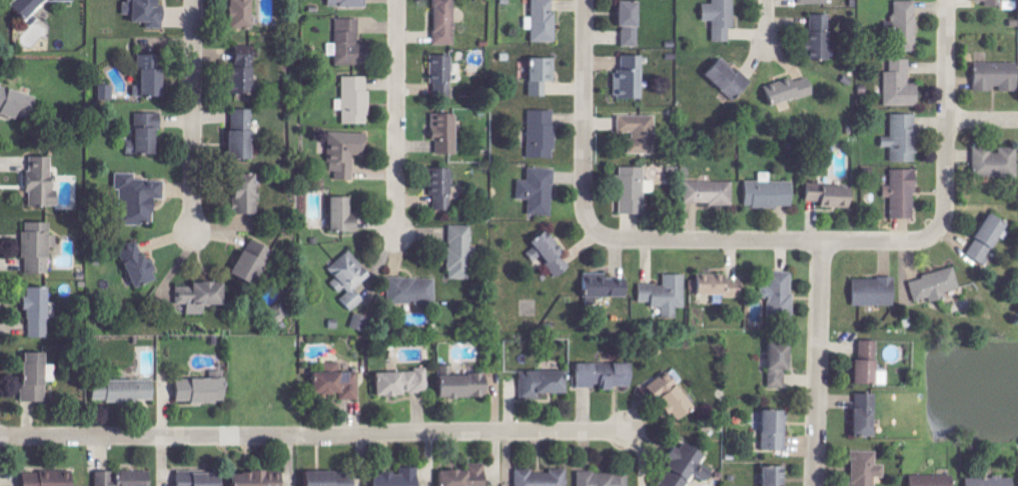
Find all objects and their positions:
building: (809, 2)
building: (990, 2)
building: (348, 3)
building: (34, 7)
building: (146, 12)
building: (244, 14)
building: (716, 18)
building: (538, 21)
building: (446, 22)
building: (622, 22)
road: (767, 23)
building: (900, 26)
building: (814, 36)
building: (350, 44)
building: (246, 74)
building: (153, 75)
building: (443, 75)
building: (536, 75)
building: (990, 76)
building: (720, 77)
building: (627, 78)
building: (895, 85)
building: (781, 91)
building: (108, 92)
building: (357, 100)
building: (17, 102)
road: (584, 111)
road: (946, 112)
road: (193, 116)
road: (396, 117)
road: (982, 120)
building: (635, 130)
building: (149, 133)
building: (447, 133)
building: (244, 134)
building: (540, 134)
building: (898, 138)
building: (346, 153)
building: (1000, 162)
building: (43, 182)
building: (443, 188)
building: (629, 189)
building: (533, 191)
building: (705, 193)
building: (248, 194)
building: (765, 194)
building: (899, 194)
building: (823, 196)
building: (141, 197)
building: (345, 215)
road: (764, 240)
building: (39, 247)
building: (462, 252)
building: (545, 252)
building: (256, 261)
building: (140, 265)
building: (351, 279)
building: (931, 285)
building: (600, 286)
building: (711, 286)
building: (414, 291)
building: (868, 292)
building: (203, 296)
building: (660, 297)
building: (772, 298)
building: (39, 312)
building: (282, 312)
building: (362, 322)
road: (819, 363)
building: (771, 364)
building: (863, 366)
building: (597, 376)
building: (38, 377)
building: (337, 381)
building: (405, 383)
building: (537, 383)
building: (465, 384)
building: (203, 390)
building: (128, 391)
building: (664, 398)
building: (859, 415)
building: (768, 429)
road: (313, 437)
building: (677, 465)
building: (860, 469)
building: (467, 476)
building: (768, 476)
building: (125, 478)
building: (332, 478)
building: (402, 478)
building: (539, 478)
building: (1017, 478)
building: (51, 479)
building: (202, 479)
building: (261, 479)
building: (599, 479)
building: (925, 480)
building: (984, 481)

